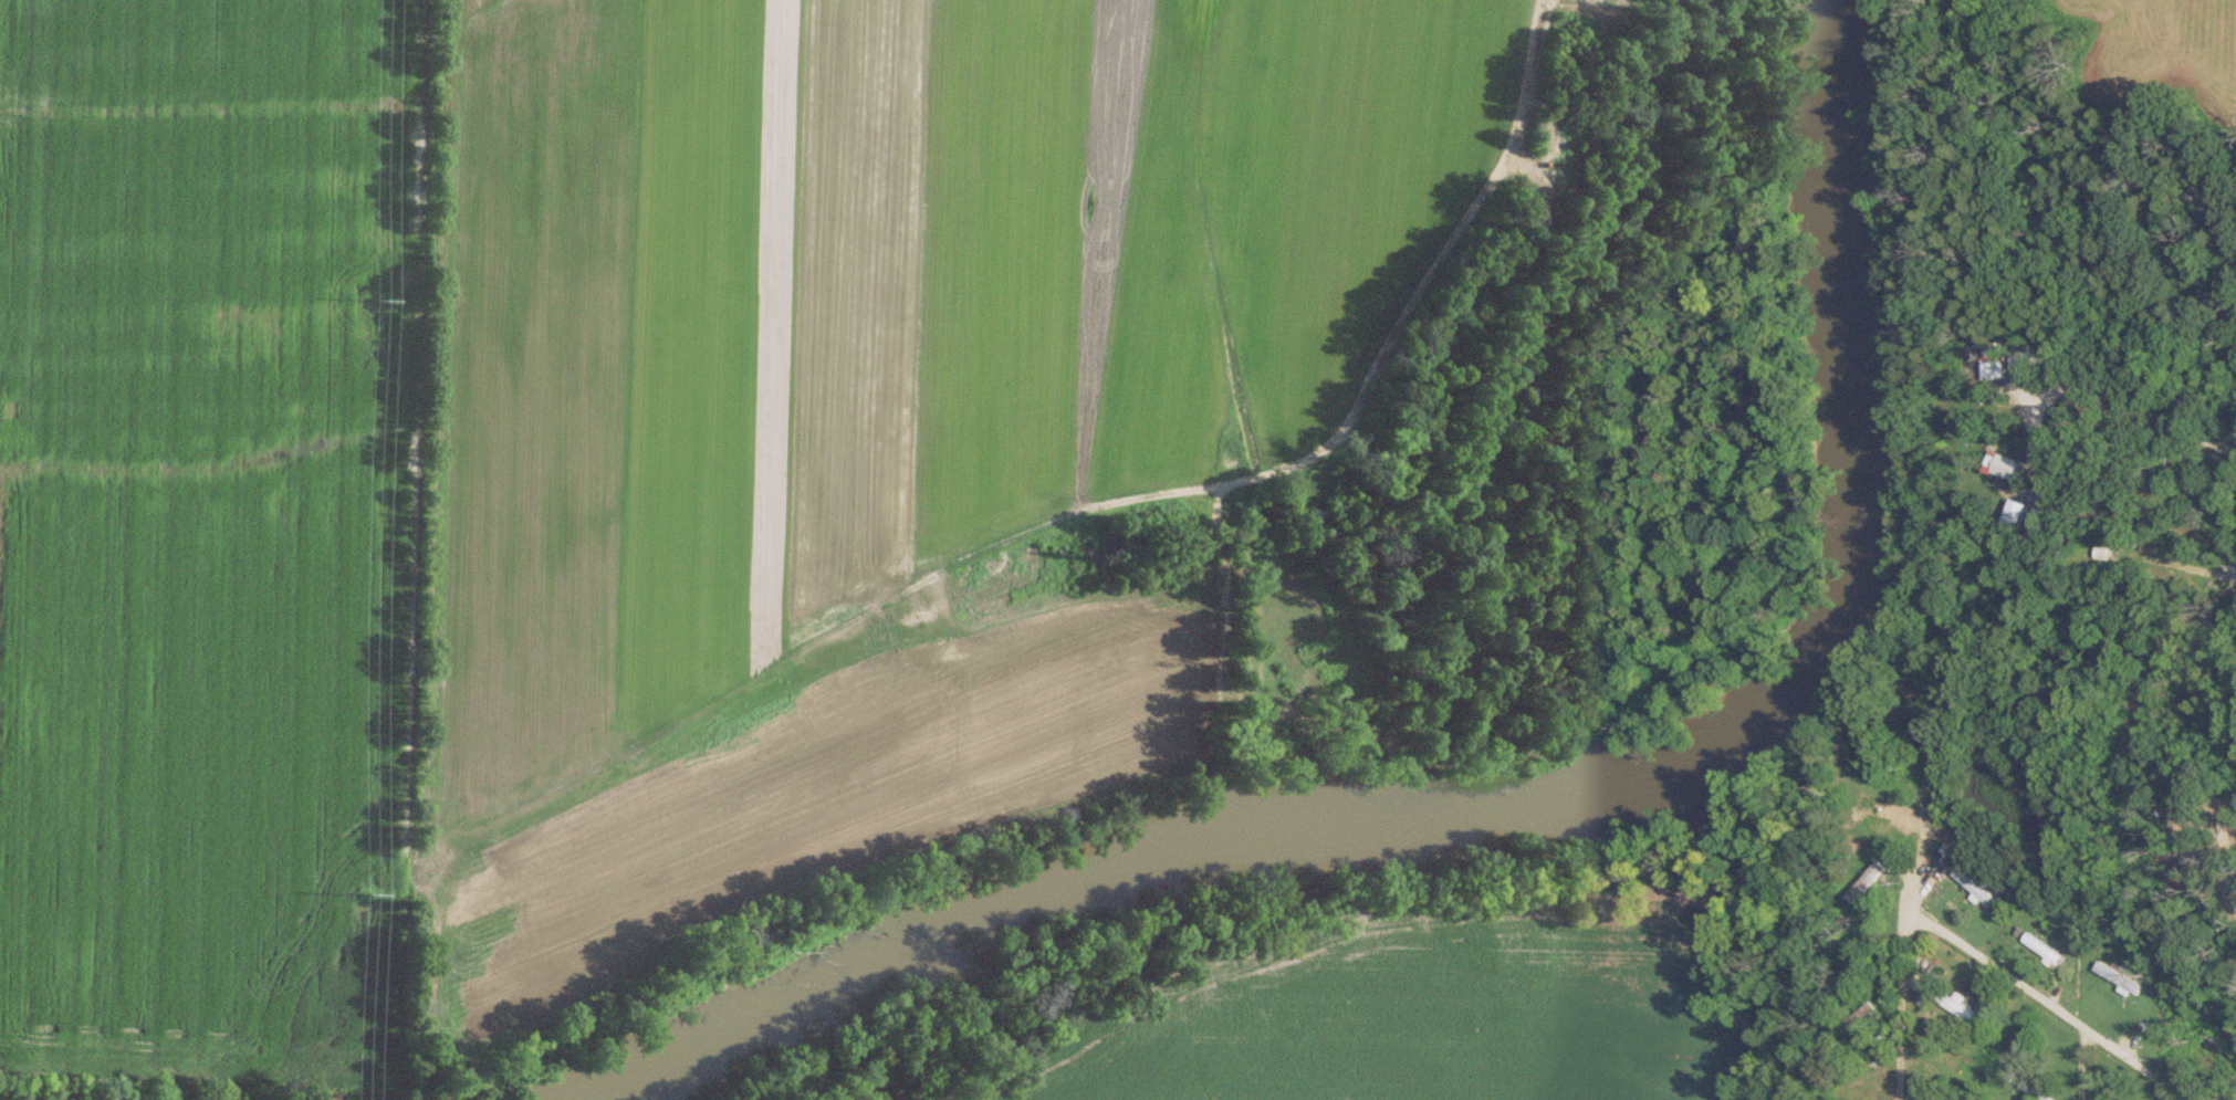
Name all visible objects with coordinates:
road: (2142, 407)
building: (2006, 465)
building: (2094, 556)
crop: (817, 796)
river: (1553, 806)
building: (1864, 881)
building: (2042, 947)
building: (2119, 979)
road: (1900, 1005)
road: (2052, 1005)
building: (1962, 1010)
crop: (1432, 1015)
building: (1861, 1016)
building: (1826, 1081)

